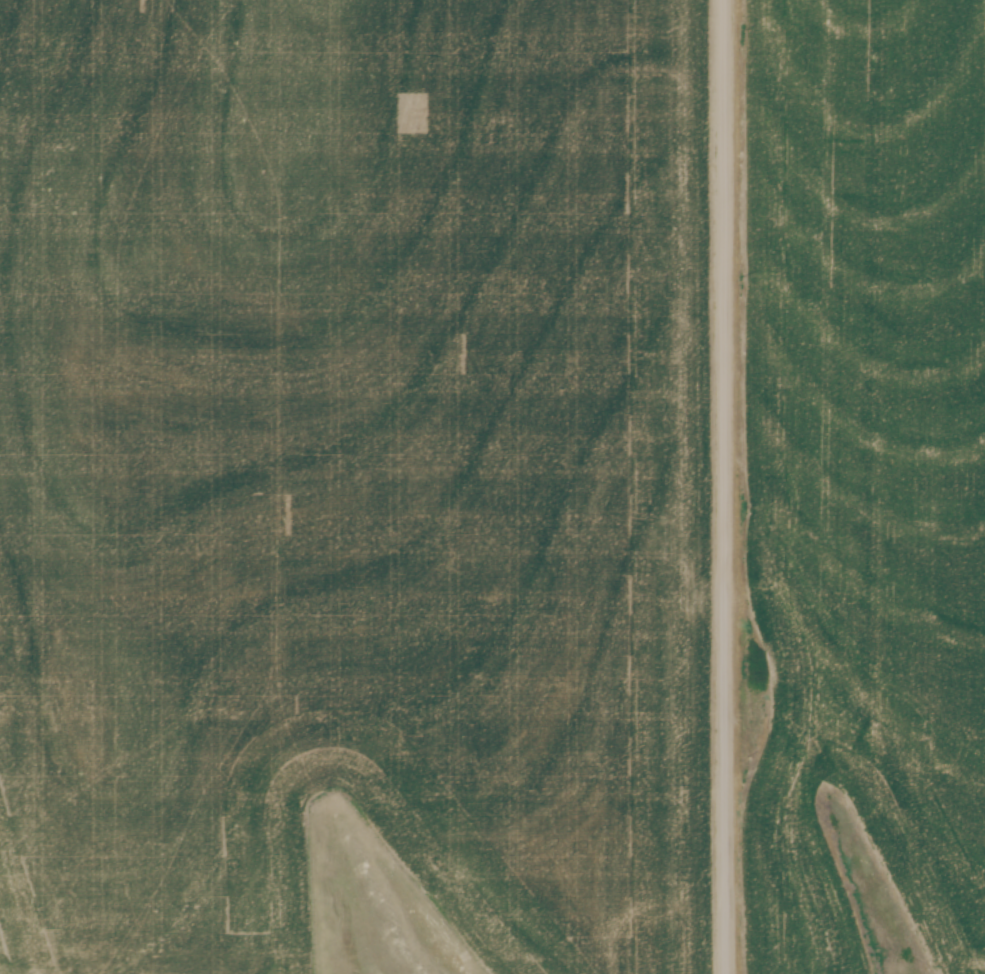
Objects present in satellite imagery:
road: (724, 487)

